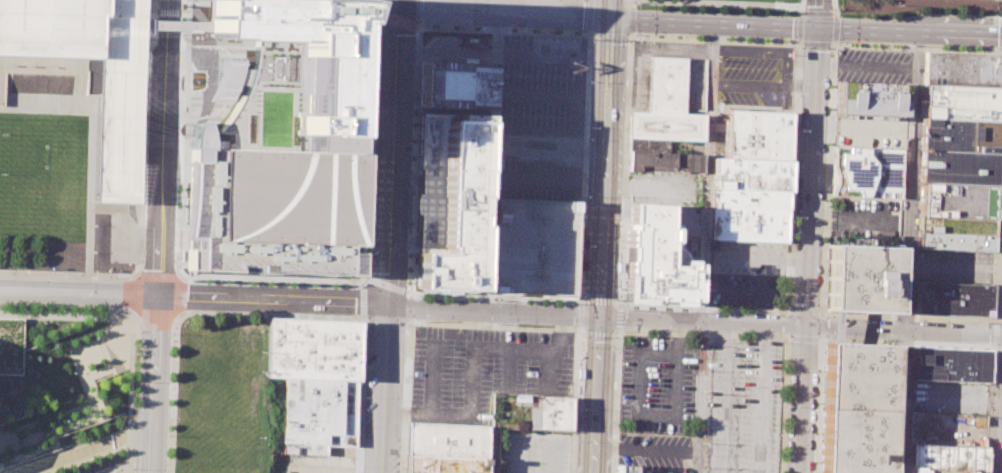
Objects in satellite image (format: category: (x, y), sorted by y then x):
road: (725, 3)
road: (630, 4)
road: (800, 6)
road: (834, 6)
road: (1001, 8)
street lamp: (684, 9)
road: (834, 9)
street lamp: (838, 9)
street lamp: (752, 11)
street lamp: (964, 12)
road: (419, 13)
road: (799, 13)
road: (817, 13)
road: (817, 13)
road: (835, 13)
road: (588, 17)
traffic signals: (609, 17)
road: (798, 17)
street lamp: (887, 17)
road: (629, 21)
building: (174, 25)
road: (396, 25)
road: (738, 25)
road: (798, 27)
traffic signals: (817, 27)
road: (835, 29)
road: (147, 30)
street lamp: (548, 31)
street lamp: (587, 34)
street lamp: (633, 34)
road: (608, 35)
street lamp: (684, 36)
street lamp: (751, 39)
road: (713, 41)
road: (798, 41)
street lamp: (838, 41)
street lamp: (626, 43)
road: (835, 43)
road: (800, 44)
road: (816, 44)
road: (832, 45)
street lamp: (887, 45)
street lamp: (801, 47)
street lamp: (964, 49)
parking lot: (871, 66)
street lamp: (751, 68)
road: (786, 69)
building: (962, 70)
road: (800, 72)
road: (67, 74)
road: (211, 79)
parking lot: (749, 84)
building: (454, 85)
building: (870, 99)
building: (960, 102)
building: (666, 105)
parking lot: (540, 118)
street lamp: (587, 127)
street lamp: (626, 131)
parking lot: (868, 131)
road: (144, 135)
building: (758, 135)
building: (958, 135)
road: (178, 139)
road: (368, 142)
building: (654, 146)
road: (90, 147)
road: (162, 147)
building: (278, 147)
building: (118, 150)
road: (492, 158)
road: (603, 158)
building: (664, 162)
building: (958, 168)
building: (867, 172)
building: (750, 174)
road: (810, 176)
road: (93, 177)
street lamp: (1001, 190)
building: (749, 199)
building: (451, 201)
building: (956, 201)
road: (115, 208)
parking lot: (864, 221)
building: (748, 224)
building: (955, 225)
road: (390, 236)
railway: (592, 236)
railway: (610, 236)
building: (662, 236)
street lamp: (582, 240)
building: (955, 241)
road: (140, 243)
street lamp: (619, 243)
railway: (618, 244)
building: (535, 248)
parking lot: (535, 248)
road: (705, 249)
street lamp: (92, 250)
road: (908, 252)
road: (756, 256)
parking lot: (953, 267)
street lamp: (47, 270)
street lamp: (103, 272)
road: (823, 272)
road: (43, 273)
parking lot: (746, 273)
road: (109, 276)
building: (862, 278)
road: (272, 280)
road: (385, 289)
road: (755, 290)
road: (78, 291)
road: (410, 294)
building: (952, 299)
road: (377, 307)
road: (409, 308)
road: (703, 308)
street lamp: (21, 310)
street lamp: (59, 311)
road: (790, 311)
street lamp: (100, 312)
road: (805, 312)
road: (787, 313)
road: (822, 313)
road: (65, 314)
road: (269, 315)
road: (578, 315)
street lamp: (997, 316)
road: (179, 318)
street lamp: (407, 318)
road: (368, 319)
road: (995, 322)
street lamp: (981, 323)
road: (786, 324)
street lamp: (365, 326)
street lamp: (405, 326)
road: (492, 326)
road: (800, 326)
road: (822, 326)
street lamp: (574, 328)
street lamp: (170, 333)
street lamp: (578, 334)
road: (993, 334)
street lamp: (616, 336)
road: (704, 336)
road: (68, 339)
road: (804, 339)
road: (905, 343)
road: (997, 347)
building: (312, 349)
railway: (583, 350)
road: (472, 361)
building: (949, 364)
road: (509, 368)
road: (549, 369)
parking lot: (481, 370)
road: (431, 377)
building: (858, 377)
road: (154, 383)
parking lot: (657, 384)
road: (616, 388)
road: (88, 391)
street lamp: (362, 392)
road: (129, 395)
road: (596, 395)
road: (405, 397)
parking lot: (948, 397)
road: (801, 399)
road: (574, 400)
street lamp: (401, 402)
road: (782, 403)
road: (819, 404)
parking lot: (741, 406)
road: (989, 408)
building: (554, 413)
street lamp: (993, 418)
street lamp: (612, 425)
road: (126, 426)
parking lot: (947, 429)
street lamp: (168, 435)
street lamp: (574, 436)
building: (447, 441)
building: (855, 441)
road: (85, 449)
road: (646, 449)
parking lot: (653, 449)
road: (493, 451)
parking lot: (535, 451)
building: (945, 459)
street lamp: (401, 464)
street lamp: (361, 465)
building: (444, 465)
street lamp: (132, 468)
building: (623, 468)

